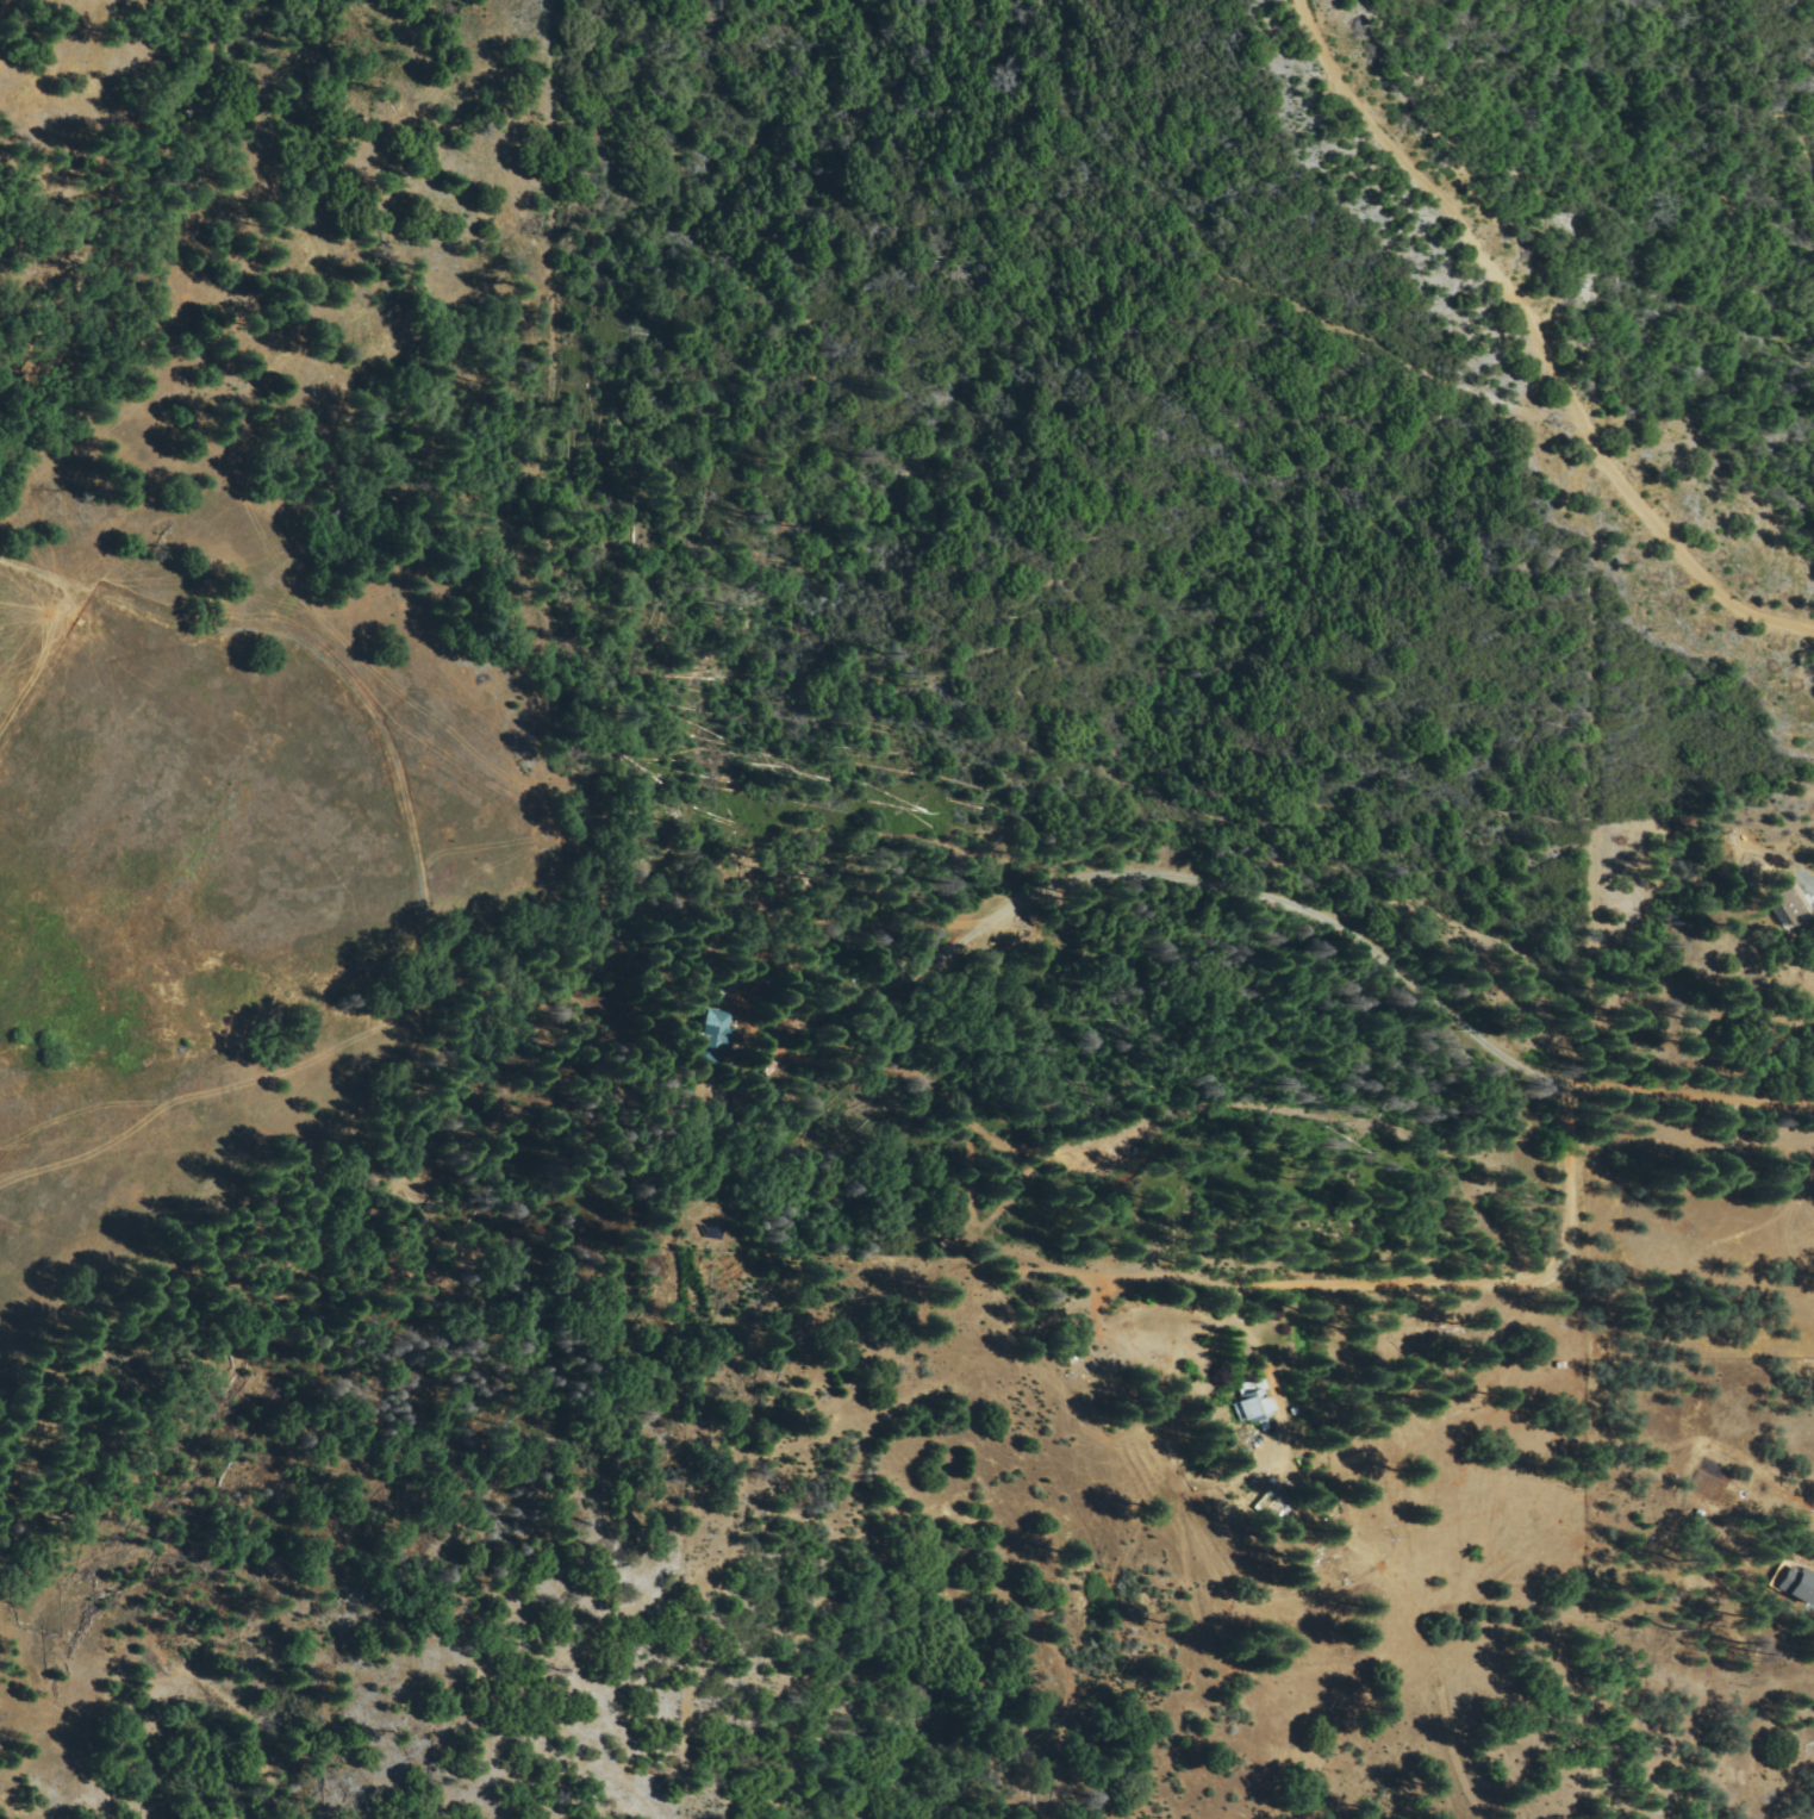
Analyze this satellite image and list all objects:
road: (1252, 284)
road: (1535, 345)
road: (922, 883)
building: (1791, 907)
building: (734, 990)
building: (719, 1039)
building: (775, 1069)
building: (1259, 1407)
building: (1276, 1507)
building: (1800, 1583)

